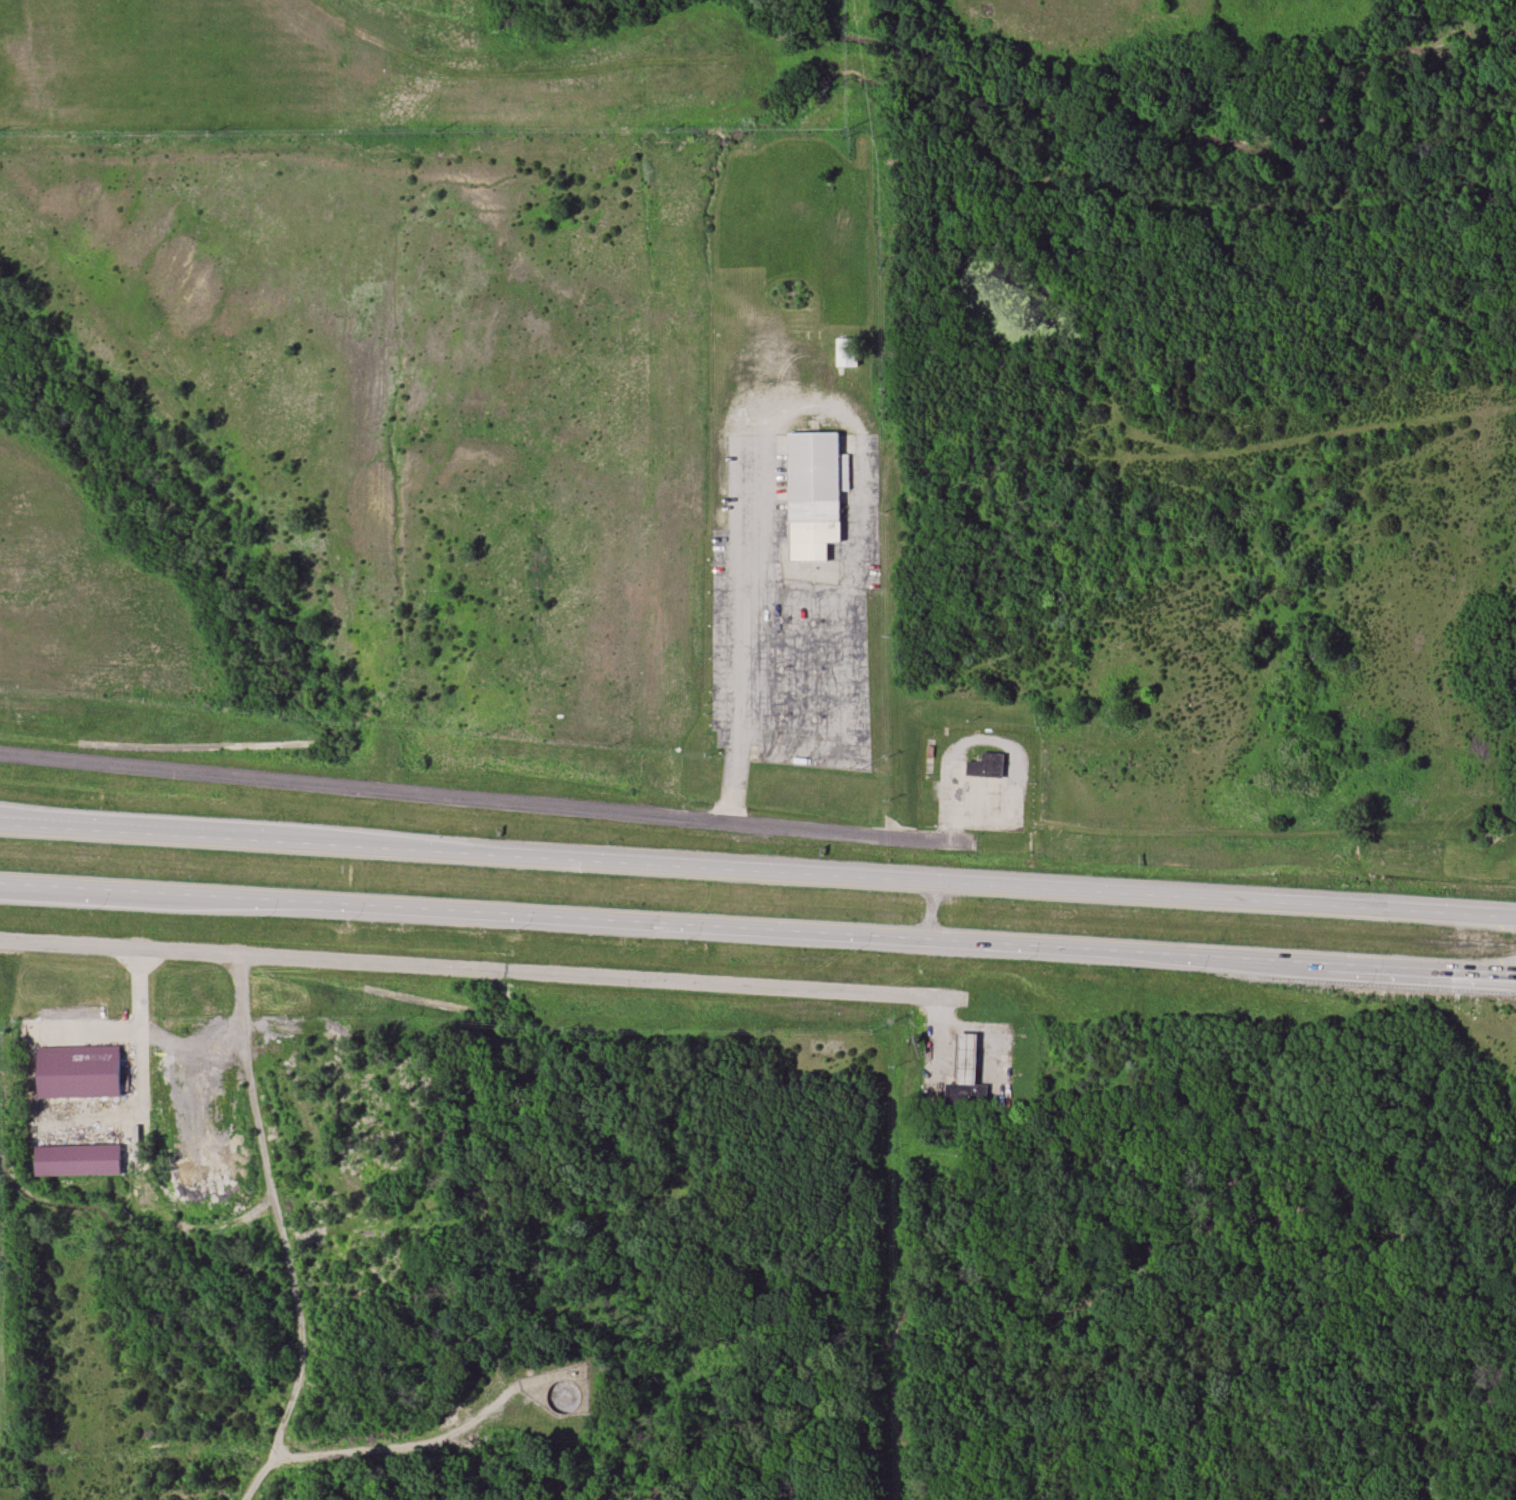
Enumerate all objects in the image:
building: (847, 353)
building: (812, 495)
road: (842, 732)
road: (960, 751)
building: (986, 766)
road: (732, 778)
road: (362, 792)
building: (990, 800)
road: (847, 834)
road: (616, 863)
road: (1375, 909)
road: (595, 917)
road: (1353, 964)
road: (480, 975)
road: (138, 992)
road: (30, 1040)
road: (939, 1041)
building: (949, 1064)
building: (80, 1071)
building: (80, 1158)
road: (277, 1212)
road: (395, 1445)

